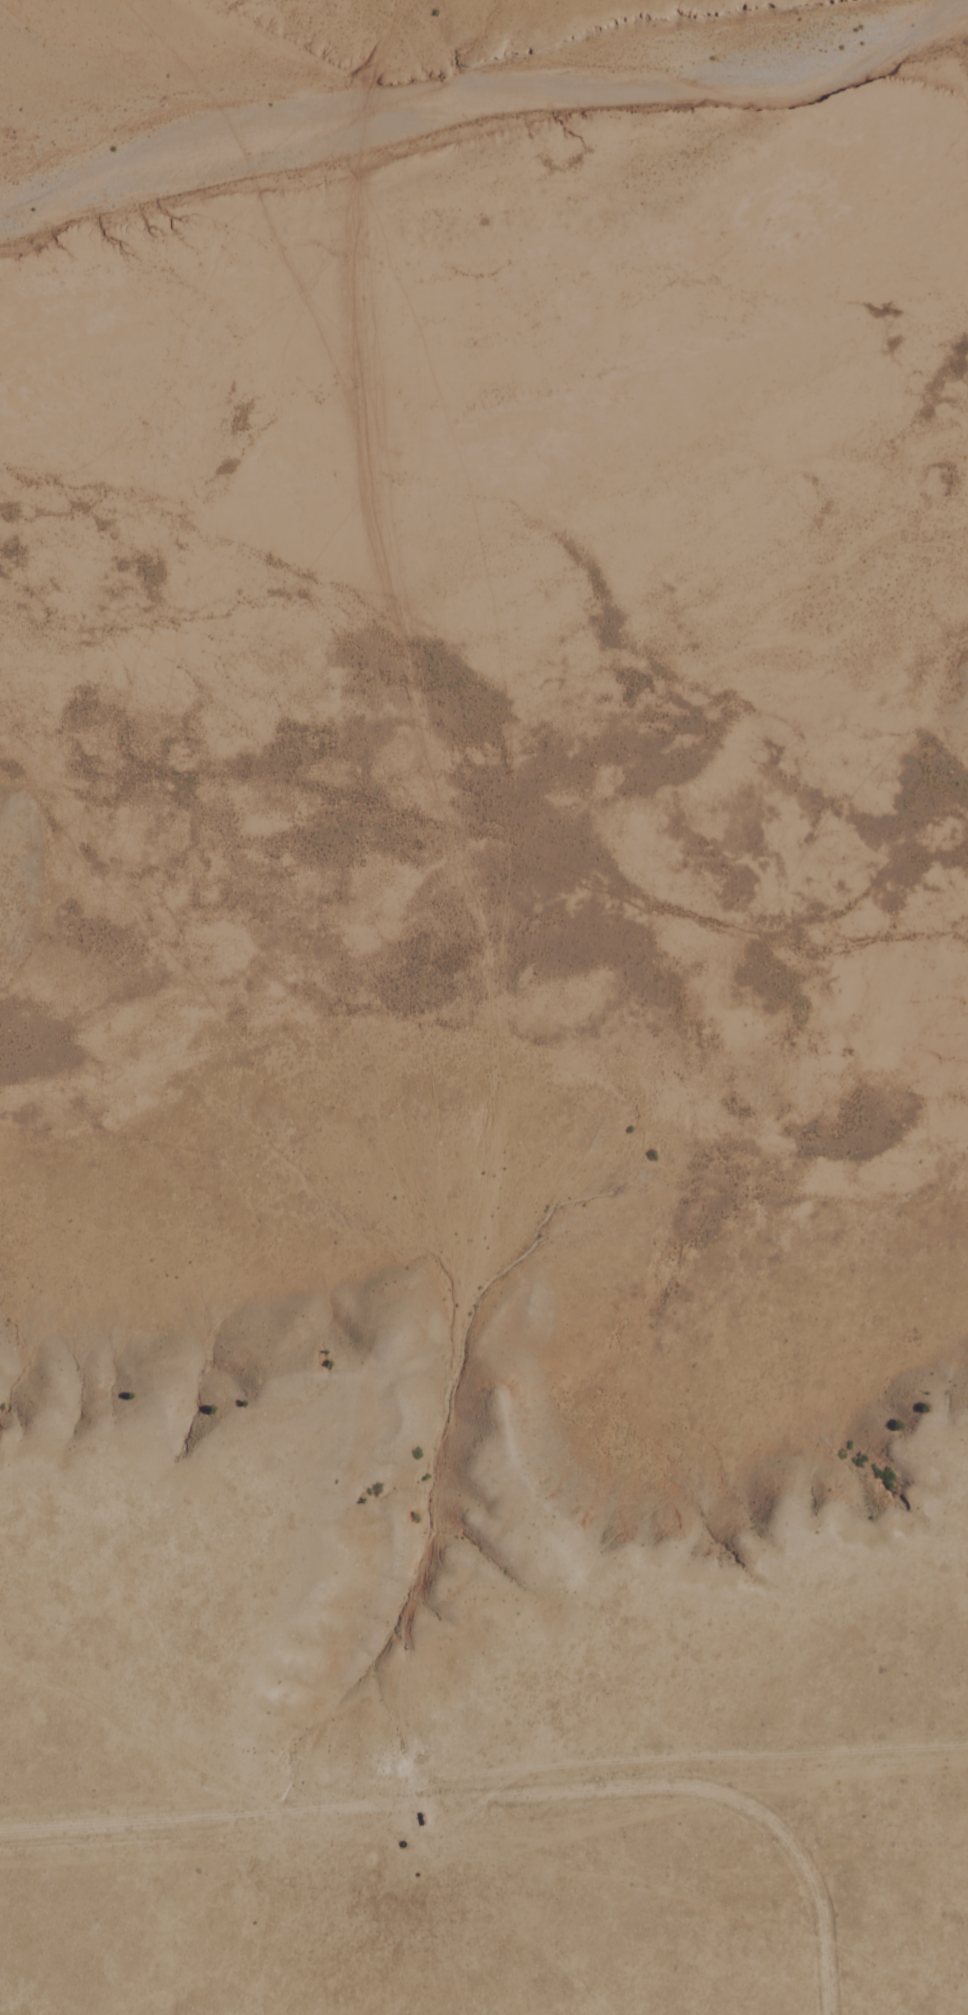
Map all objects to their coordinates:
road: (487, 1158)

